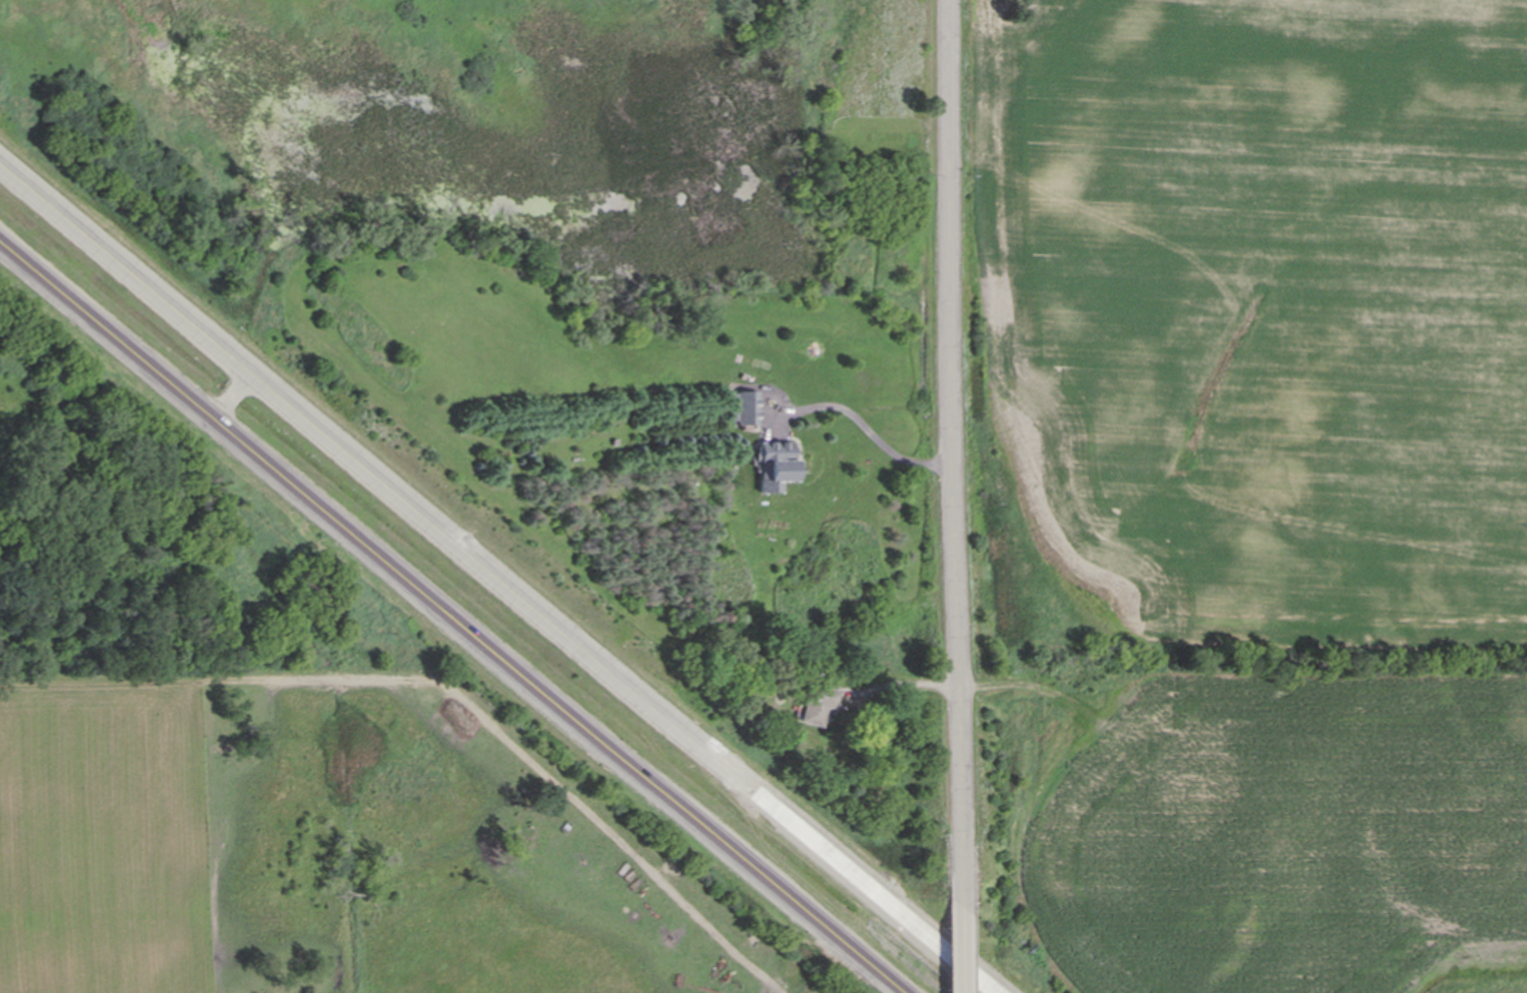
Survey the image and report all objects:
road: (232, 394)
building: (746, 408)
road: (873, 428)
road: (959, 458)
building: (778, 466)
road: (498, 577)
road: (451, 616)
road: (906, 682)
building: (818, 705)
road: (960, 955)

